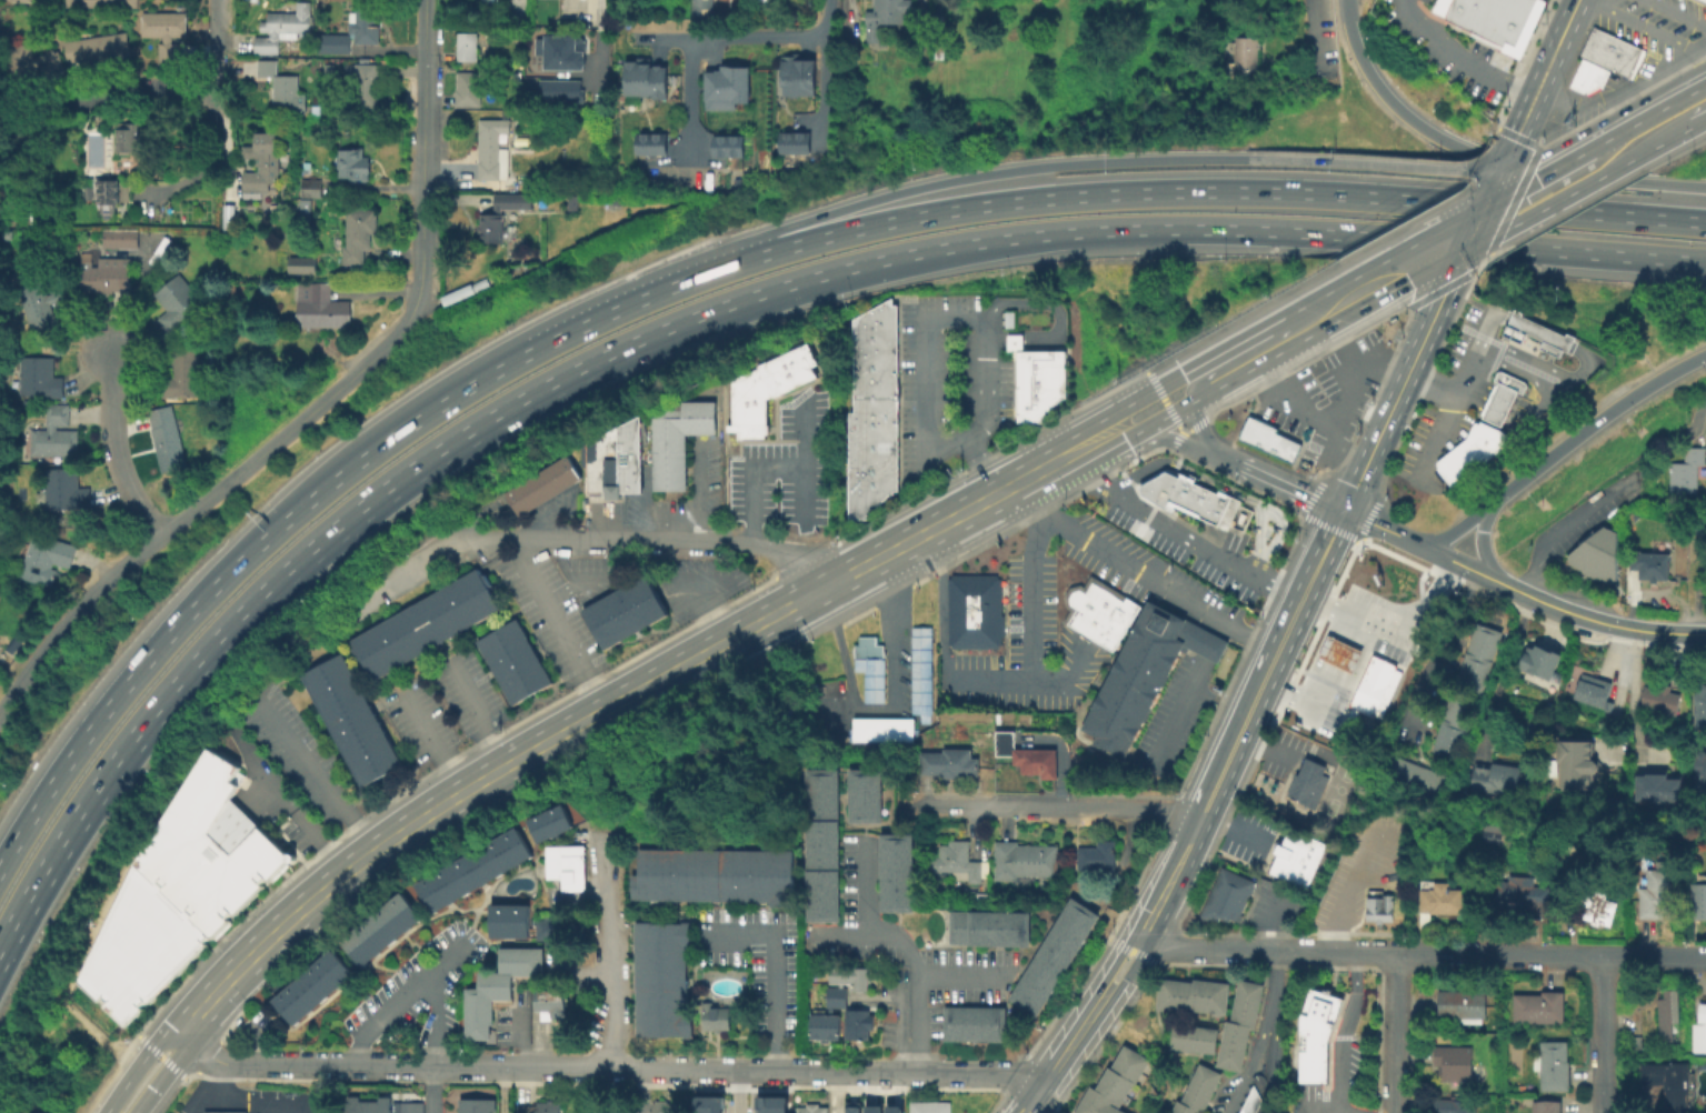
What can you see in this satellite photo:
building: (21, 0)
building: (1703, 1)
building: (99, 3)
road: (1438, 7)
road: (586, 10)
building: (701, 10)
road: (1676, 13)
building: (884, 16)
building: (1495, 20)
road: (1431, 22)
building: (366, 24)
building: (281, 27)
road: (1317, 29)
building: (167, 32)
road: (1654, 32)
road: (745, 34)
building: (519, 39)
road: (602, 43)
road: (213, 44)
building: (467, 47)
building: (98, 48)
building: (337, 48)
building: (1608, 51)
building: (566, 53)
building: (1246, 53)
road: (1459, 60)
building: (30, 64)
road: (1547, 68)
building: (798, 72)
building: (1580, 74)
parking lot: (1648, 74)
building: (645, 76)
building: (518, 77)
building: (1595, 78)
building: (727, 84)
road: (821, 84)
building: (366, 88)
building: (283, 89)
building: (468, 89)
road: (141, 90)
building: (566, 92)
road: (688, 96)
road: (1695, 110)
building: (129, 138)
road: (1644, 138)
building: (651, 141)
building: (796, 141)
building: (729, 143)
building: (492, 147)
road: (422, 153)
road: (1508, 157)
road: (1483, 158)
road: (1373, 162)
building: (265, 164)
building: (355, 164)
road: (1582, 171)
road: (960, 176)
traffic signals: (1499, 176)
road: (1529, 179)
building: (313, 189)
road: (1195, 190)
building: (106, 194)
building: (618, 201)
road: (1486, 202)
building: (576, 203)
road: (1516, 207)
building: (307, 208)
building: (503, 215)
road: (1135, 229)
traffic signals: (1474, 230)
building: (361, 233)
building: (0, 234)
building: (122, 240)
building: (339, 241)
road: (1438, 250)
road: (1464, 251)
building: (302, 265)
building: (107, 274)
road: (1366, 290)
building: (466, 291)
building: (177, 301)
road: (1045, 302)
road: (1381, 302)
building: (322, 307)
building: (41, 314)
road: (1498, 314)
building: (1007, 318)
road: (960, 319)
road: (1307, 322)
building: (874, 332)
road: (1538, 332)
building: (1536, 333)
road: (995, 340)
road: (1014, 341)
road: (1219, 354)
road: (1229, 364)
road: (1381, 365)
building: (872, 367)
road: (1544, 367)
building: (182, 373)
road: (1244, 374)
building: (39, 378)
building: (1035, 379)
road: (1534, 380)
building: (872, 381)
road: (1459, 384)
building: (766, 388)
road: (1399, 392)
road: (1471, 392)
building: (1499, 395)
building: (872, 397)
road: (1496, 403)
building: (872, 412)
road: (1170, 412)
road: (1111, 415)
road: (1311, 418)
road: (1592, 425)
road: (1199, 427)
building: (869, 428)
road: (1186, 432)
building: (56, 434)
road: (1136, 435)
building: (167, 438)
building: (677, 440)
road: (1158, 441)
building: (1266, 441)
building: (869, 445)
road: (113, 449)
building: (1468, 451)
road: (1225, 454)
building: (616, 459)
road: (802, 464)
road: (1090, 471)
building: (1686, 472)
road: (748, 479)
building: (866, 482)
building: (542, 484)
road: (1221, 485)
road: (1293, 485)
building: (64, 488)
road: (699, 492)
building: (1191, 501)
road: (199, 503)
road: (293, 508)
traffic signals: (1345, 511)
road: (995, 520)
road: (947, 522)
road: (1379, 528)
road: (1454, 532)
road: (1554, 534)
building: (1678, 539)
road: (657, 542)
road: (1481, 548)
road: (1201, 550)
building: (1596, 556)
building: (49, 559)
road: (1458, 563)
building: (1649, 566)
road: (412, 568)
road: (1143, 575)
road: (1028, 598)
building: (637, 602)
road: (1540, 602)
road: (248, 606)
road: (707, 611)
building: (970, 613)
building: (1095, 614)
building: (606, 620)
building: (423, 622)
road: (557, 626)
road: (1217, 630)
road: (1643, 632)
road: (1395, 635)
building: (1481, 641)
road: (1447, 646)
road: (1208, 648)
building: (1337, 652)
gas station: (1337, 652)
building: (1544, 660)
building: (511, 661)
building: (868, 665)
building: (1378, 670)
building: (919, 671)
building: (1470, 671)
road: (1499, 672)
building: (1139, 675)
road: (945, 681)
road: (1330, 682)
building: (1592, 693)
building: (1367, 695)
building: (1662, 701)
road: (1634, 702)
road: (885, 708)
building: (1459, 708)
building: (1699, 710)
road: (477, 714)
road: (1174, 715)
building: (350, 719)
road: (1243, 723)
building: (880, 729)
road: (428, 739)
building: (1448, 739)
road: (1264, 743)
building: (1024, 754)
building: (946, 762)
building: (1574, 765)
building: (1399, 768)
road: (315, 775)
building: (1699, 775)
building: (1306, 781)
building: (1429, 781)
building: (1497, 781)
road: (473, 786)
building: (1658, 788)
building: (864, 794)
road: (285, 803)
road: (989, 805)
road: (1135, 806)
road: (1307, 814)
building: (553, 821)
road: (1230, 829)
building: (821, 843)
building: (1095, 855)
building: (1295, 856)
building: (954, 859)
building: (1022, 861)
building: (567, 864)
building: (472, 868)
building: (895, 871)
building: (712, 873)
road: (864, 885)
building: (181, 889)
building: (1224, 895)
building: (1518, 895)
building: (1655, 895)
road: (587, 899)
building: (1439, 899)
building: (1699, 901)
road: (1346, 908)
building: (1377, 908)
building: (1596, 908)
building: (507, 920)
road: (1268, 923)
building: (986, 926)
building: (553, 927)
building: (380, 929)
road: (1265, 950)
road: (606, 951)
road: (1549, 955)
building: (1051, 956)
road: (1117, 957)
road: (915, 959)
road: (776, 963)
road: (1129, 966)
road: (958, 975)
building: (660, 977)
building: (309, 985)
building: (496, 985)
road: (1269, 985)
building: (1189, 994)
road: (398, 999)
building: (547, 1002)
building: (1459, 1003)
building: (839, 1006)
building: (1539, 1010)
building: (1668, 1016)
building: (712, 1017)
building: (970, 1022)
building: (1237, 1023)
road: (1341, 1031)
building: (1314, 1033)
road: (1391, 1033)
building: (1699, 1033)
road: (1598, 1034)
building: (1190, 1036)
road: (433, 1042)
building: (1635, 1044)
road: (1065, 1051)
building: (1451, 1061)
road: (1246, 1066)
road: (1271, 1066)
road: (134, 1067)
building: (1554, 1069)
road: (607, 1070)
road: (157, 1079)
building: (1111, 1082)
building: (1668, 1085)
building: (1195, 1090)
road: (500, 1091)
road: (606, 1091)
road: (737, 1092)
road: (832, 1093)
building: (1692, 1093)
road: (216, 1095)
building: (1248, 1100)
road: (259, 1101)
building: (1527, 1102)
building: (706, 1103)
building: (381, 1104)
building: (769, 1104)
building: (473, 1105)
building: (1454, 1105)
building: (538, 1106)
building: (661, 1106)
building: (926, 1106)
building: (808, 1107)
building: (850, 1107)
building: (1546, 1107)
building: (870, 1109)
building: (892, 1109)
building: (221, 1111)
road: (1315, 1112)

